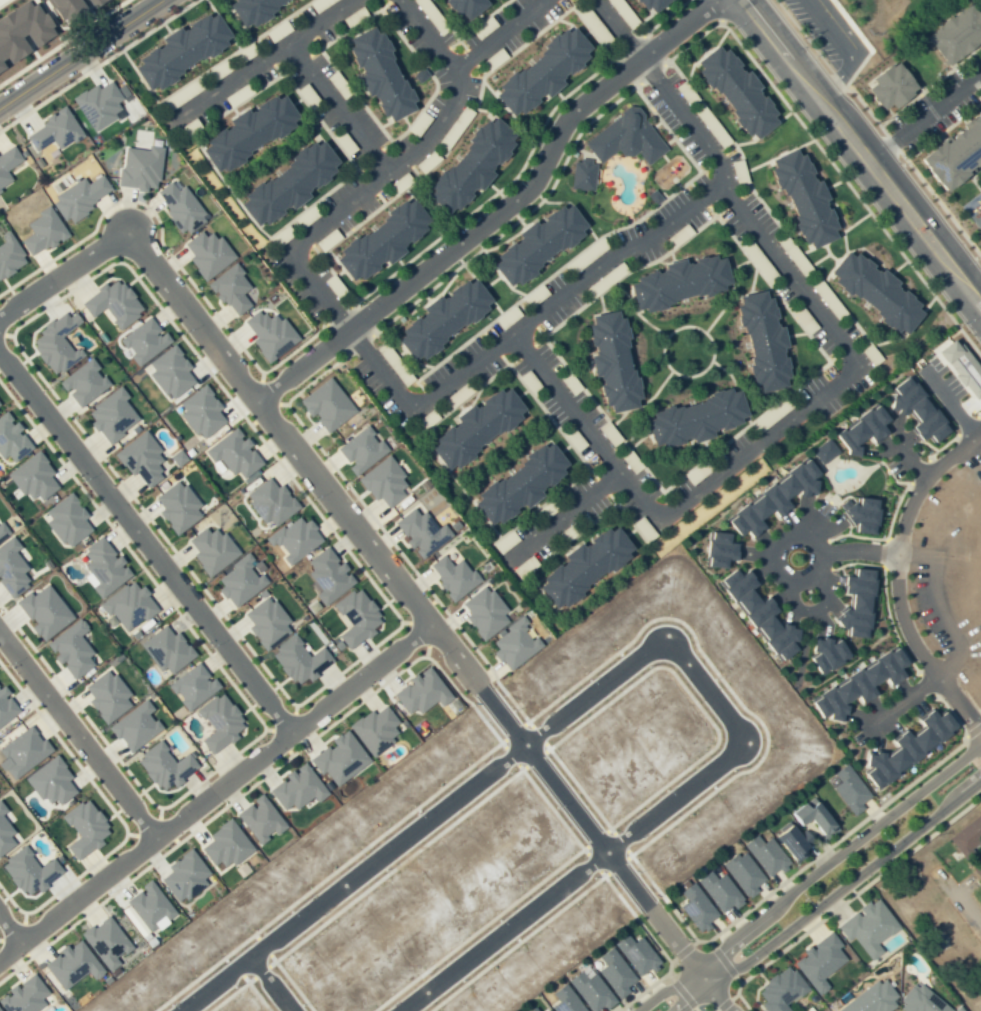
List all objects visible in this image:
building: (102, 1)
building: (646, 4)
building: (460, 7)
building: (246, 9)
building: (71, 10)
road: (713, 11)
road: (373, 12)
road: (714, 25)
road: (650, 27)
building: (24, 29)
building: (951, 33)
road: (462, 34)
building: (832, 34)
road: (425, 35)
road: (498, 35)
road: (62, 41)
road: (628, 47)
building: (177, 48)
road: (602, 49)
road: (74, 50)
road: (651, 51)
road: (233, 52)
road: (299, 60)
road: (258, 62)
road: (97, 65)
road: (628, 68)
building: (537, 70)
road: (136, 73)
building: (375, 73)
road: (650, 73)
building: (885, 84)
road: (929, 85)
road: (662, 89)
building: (731, 90)
building: (97, 105)
road: (336, 109)
road: (923, 116)
road: (315, 117)
road: (879, 127)
building: (52, 131)
building: (244, 131)
building: (622, 138)
building: (951, 149)
road: (860, 152)
road: (372, 154)
road: (778, 155)
road: (716, 159)
building: (7, 163)
building: (466, 165)
building: (139, 167)
building: (580, 174)
building: (285, 182)
road: (227, 187)
building: (79, 196)
building: (803, 197)
road: (435, 204)
building: (178, 207)
road: (498, 212)
building: (40, 231)
road: (835, 236)
building: (377, 239)
building: (533, 242)
building: (980, 243)
building: (206, 253)
building: (8, 254)
road: (309, 262)
road: (176, 263)
road: (497, 273)
road: (62, 275)
building: (678, 281)
road: (490, 282)
road: (478, 286)
building: (229, 289)
road: (620, 289)
building: (875, 291)
road: (599, 302)
building: (110, 303)
road: (717, 313)
road: (395, 314)
road: (355, 317)
building: (438, 317)
road: (529, 319)
road: (643, 320)
road: (907, 329)
road: (1, 332)
road: (5, 334)
building: (267, 334)
road: (795, 334)
building: (761, 340)
building: (142, 341)
building: (53, 344)
road: (844, 348)
road: (710, 359)
building: (612, 360)
road: (507, 365)
building: (960, 368)
road: (834, 370)
building: (168, 372)
road: (725, 372)
road: (386, 381)
building: (81, 383)
road: (655, 390)
road: (267, 392)
road: (427, 398)
building: (324, 405)
building: (909, 408)
building: (199, 412)
road: (261, 414)
building: (110, 415)
building: (695, 418)
road: (551, 421)
building: (470, 427)
building: (857, 429)
road: (277, 431)
building: (10, 440)
road: (928, 446)
road: (753, 448)
building: (360, 450)
building: (822, 450)
building: (232, 454)
road: (604, 455)
road: (927, 456)
building: (139, 459)
building: (31, 477)
road: (675, 481)
building: (382, 482)
road: (456, 483)
building: (516, 484)
road: (601, 486)
road: (632, 489)
road: (354, 496)
building: (769, 498)
building: (269, 502)
building: (176, 507)
building: (859, 514)
road: (560, 517)
building: (65, 520)
road: (585, 526)
road: (846, 530)
building: (2, 531)
building: (419, 532)
road: (799, 538)
road: (883, 538)
building: (293, 539)
road: (145, 544)
building: (210, 550)
building: (717, 550)
road: (884, 553)
building: (581, 564)
building: (102, 567)
building: (10, 569)
building: (326, 575)
building: (452, 577)
building: (240, 580)
road: (895, 580)
road: (540, 592)
building: (853, 602)
building: (126, 606)
road: (421, 610)
building: (42, 612)
building: (482, 612)
building: (759, 613)
building: (355, 617)
building: (264, 623)
road: (418, 634)
road: (385, 636)
building: (512, 645)
building: (69, 650)
building: (165, 650)
building: (825, 651)
road: (643, 652)
road: (801, 654)
building: (297, 660)
building: (191, 686)
building: (852, 686)
building: (419, 692)
building: (105, 697)
road: (905, 698)
road: (970, 701)
building: (5, 708)
road: (250, 709)
road: (281, 722)
building: (217, 723)
building: (133, 726)
building: (372, 729)
road: (971, 731)
road: (77, 737)
road: (281, 742)
building: (902, 747)
building: (21, 753)
building: (337, 759)
road: (538, 765)
building: (162, 767)
building: (49, 782)
road: (907, 785)
building: (295, 789)
building: (848, 789)
road: (214, 792)
road: (236, 796)
building: (2, 809)
road: (113, 813)
building: (257, 819)
road: (146, 826)
building: (83, 828)
building: (799, 830)
road: (166, 831)
building: (4, 836)
building: (223, 845)
building: (763, 855)
building: (27, 872)
building: (742, 874)
building: (182, 877)
road: (808, 879)
building: (717, 891)
road: (831, 897)
road: (846, 900)
building: (146, 907)
building: (694, 907)
building: (866, 927)
road: (15, 928)
road: (9, 930)
building: (104, 942)
road: (17, 944)
road: (681, 951)
building: (634, 955)
road: (687, 958)
road: (722, 961)
building: (818, 962)
building: (71, 966)
road: (667, 969)
building: (612, 973)
road: (270, 984)
building: (778, 990)
building: (588, 991)
road: (680, 991)
building: (22, 996)
building: (871, 998)
building: (563, 1000)
building: (919, 1000)
road: (725, 1002)
building: (531, 1009)
building: (546, 1010)

